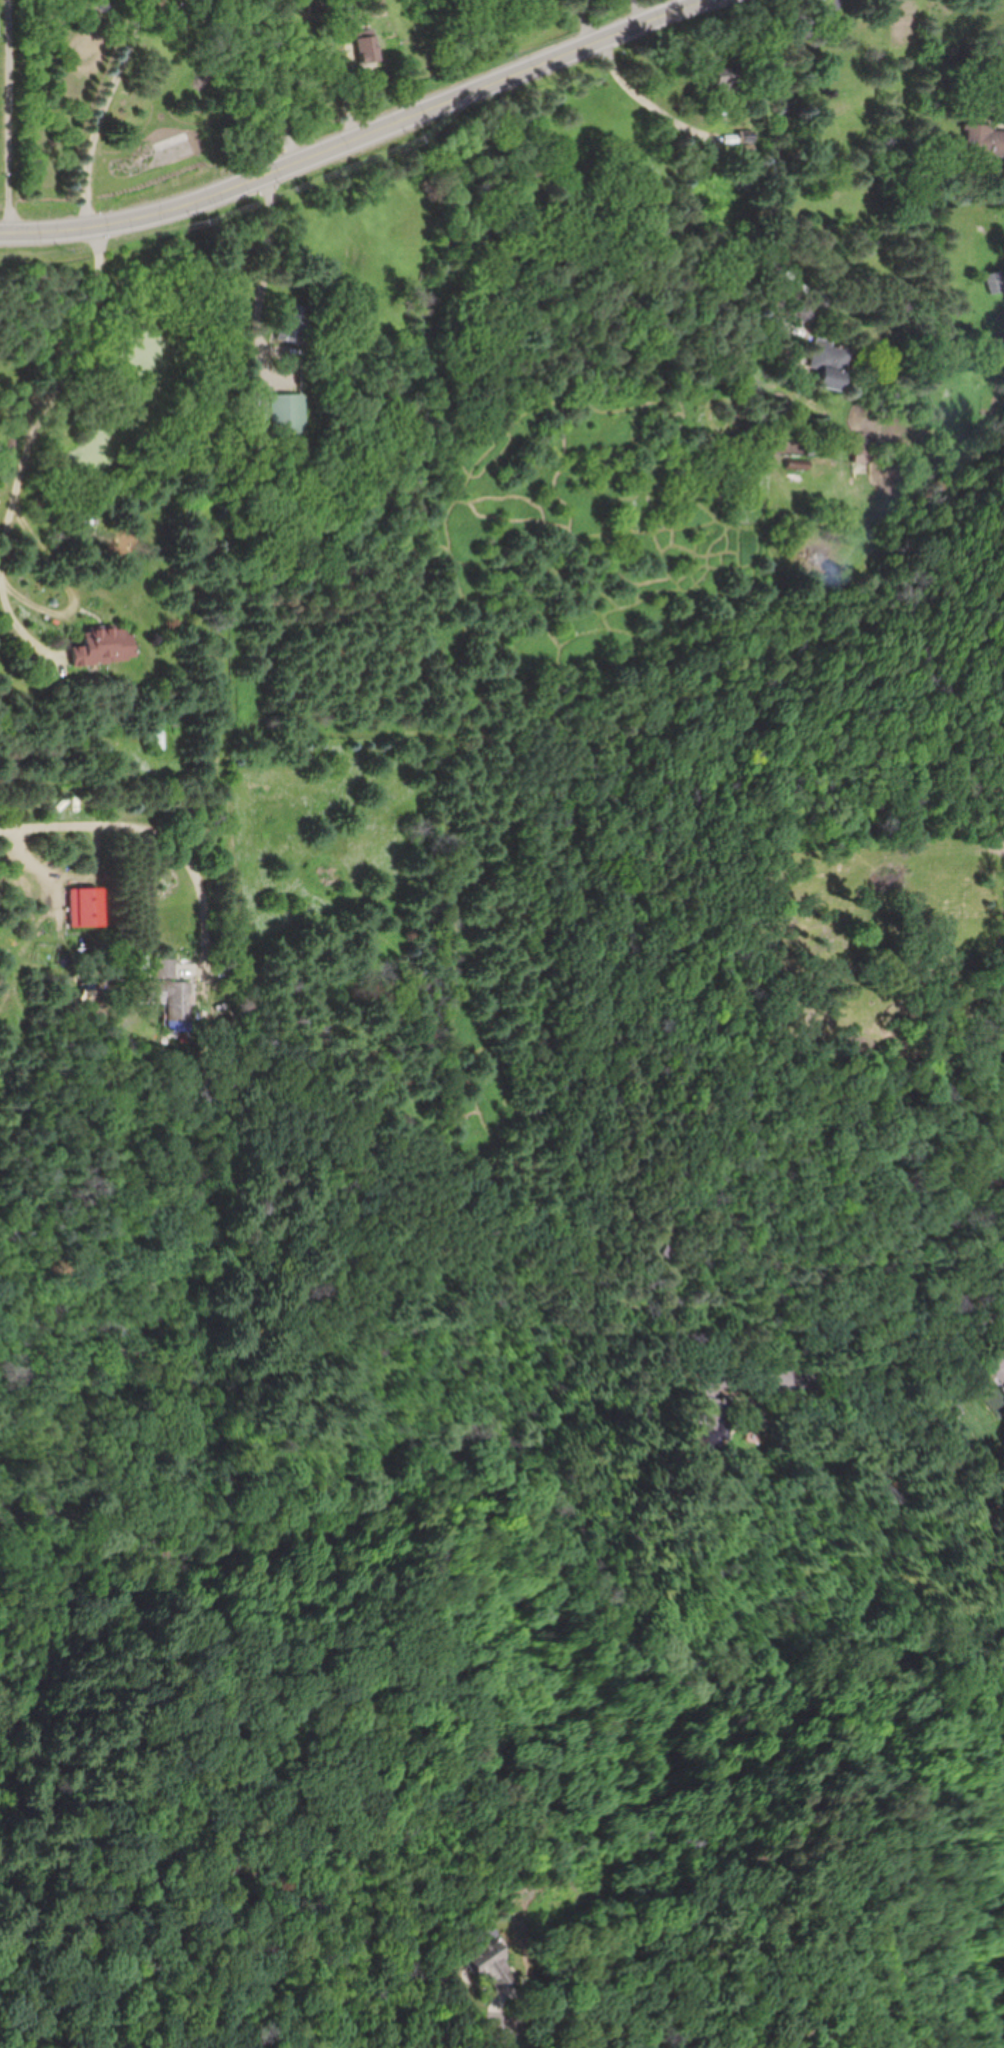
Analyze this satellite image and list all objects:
building: (376, 2)
building: (342, 5)
road: (586, 18)
building: (365, 54)
building: (720, 82)
road: (266, 84)
road: (642, 93)
road: (12, 117)
building: (984, 140)
road: (347, 142)
road: (781, 161)
road: (102, 251)
building: (995, 281)
road: (262, 284)
building: (290, 325)
building: (825, 366)
building: (285, 414)
building: (860, 450)
road: (66, 611)
building: (99, 646)
building: (157, 740)
road: (156, 832)
building: (160, 982)
road: (917, 1359)
building: (1001, 1412)
building: (711, 1423)
building: (485, 1968)
road: (515, 2034)

